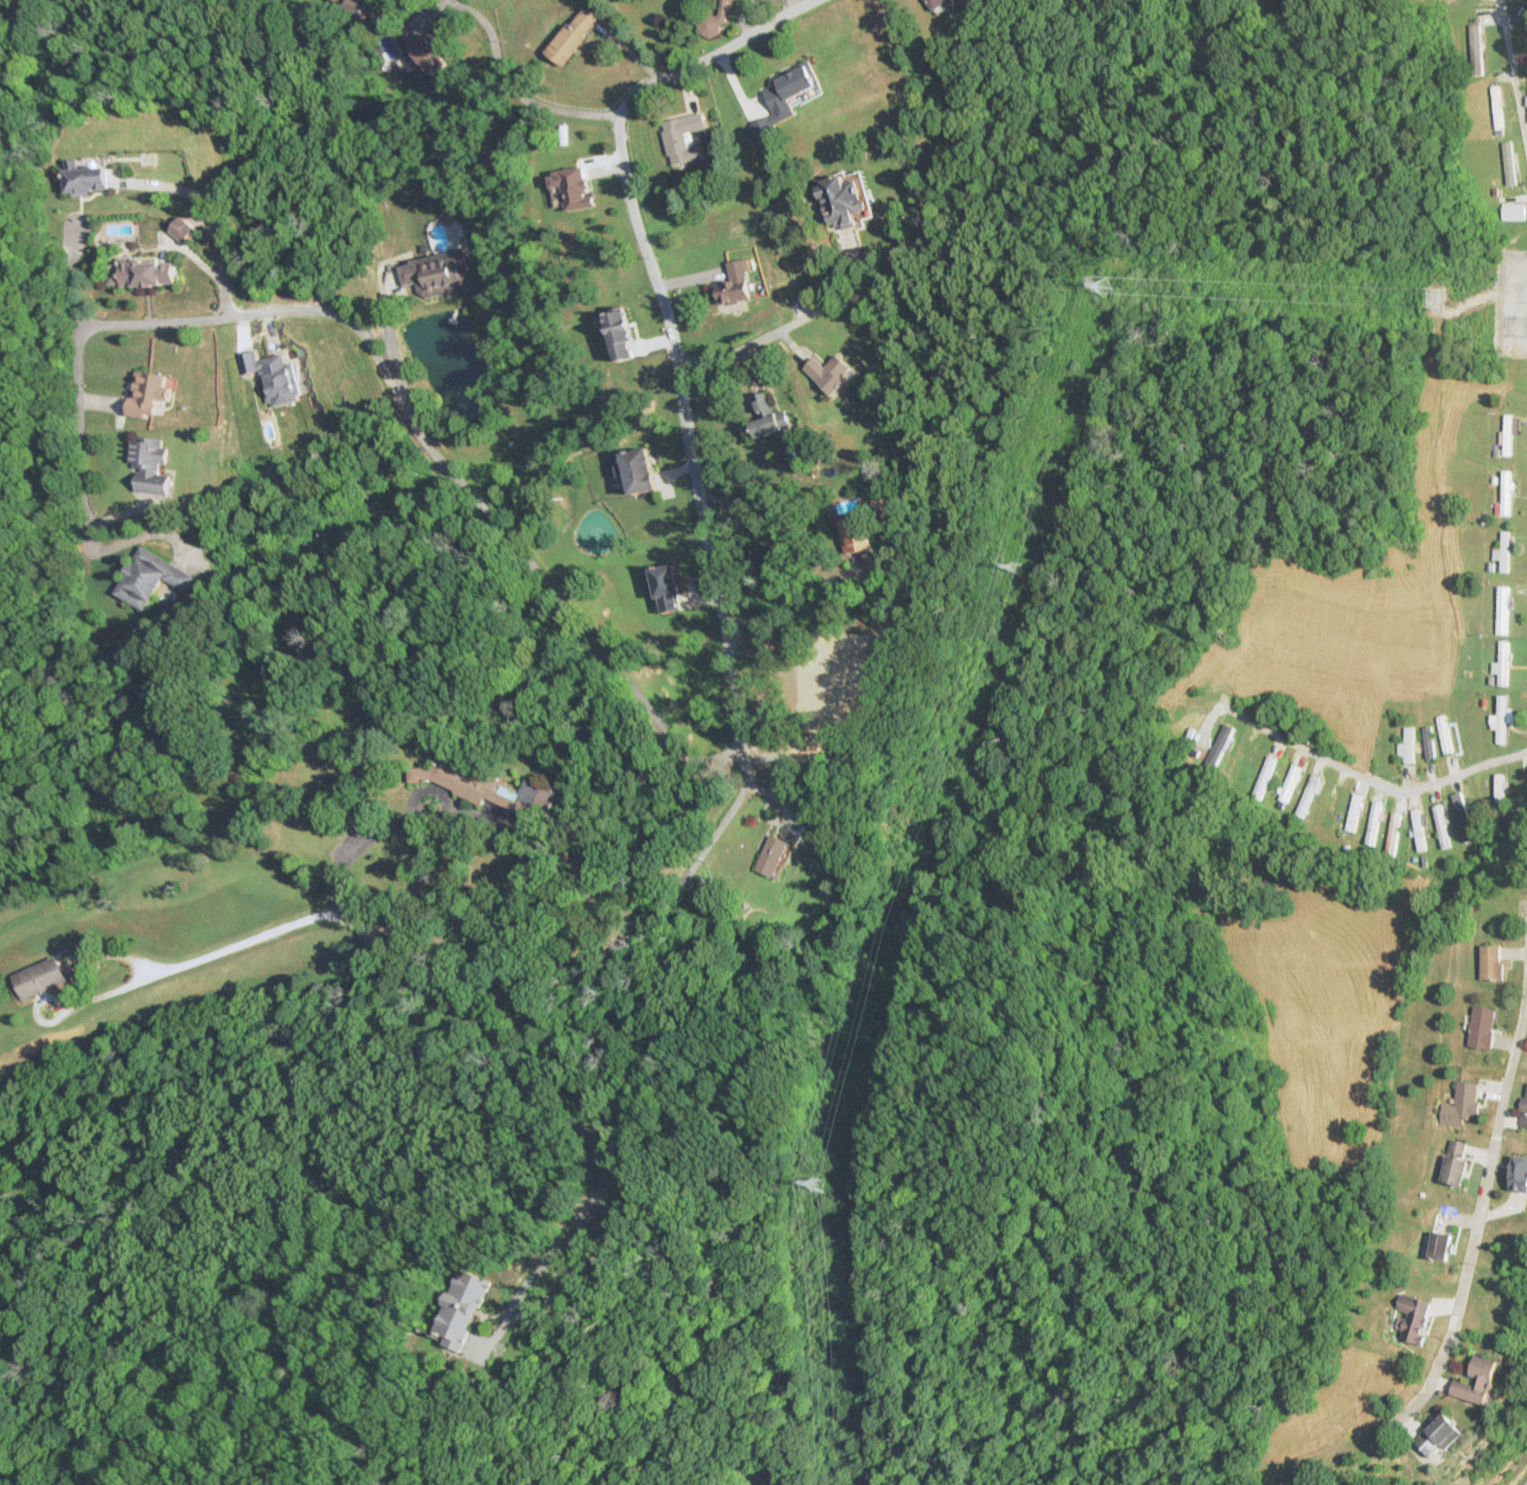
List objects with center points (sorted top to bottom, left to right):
building: (729, 0)
building: (935, 3)
building: (352, 7)
building: (711, 24)
building: (574, 36)
building: (1475, 47)
road: (1514, 74)
road: (513, 88)
building: (782, 100)
building: (1496, 107)
building: (683, 138)
building: (1511, 166)
building: (84, 179)
building: (572, 188)
building: (841, 202)
building: (1513, 211)
building: (145, 273)
building: (437, 274)
road: (76, 275)
building: (738, 282)
building: (619, 336)
road: (735, 349)
road: (384, 372)
building: (830, 374)
building: (274, 377)
building: (149, 394)
building: (767, 417)
building: (1508, 435)
building: (150, 465)
building: (639, 472)
building: (1505, 495)
building: (852, 535)
building: (1504, 551)
building: (150, 578)
building: (666, 589)
road: (716, 599)
building: (1503, 608)
building: (1503, 662)
building: (1500, 720)
building: (1445, 734)
building: (1428, 739)
building: (1409, 745)
building: (1220, 750)
building: (1240, 763)
building: (1290, 783)
road: (1369, 783)
building: (476, 786)
building: (1501, 788)
building: (1355, 812)
building: (1466, 821)
building: (1375, 823)
building: (1443, 825)
building: (1419, 829)
building: (1394, 833)
building: (774, 854)
building: (1491, 962)
building: (38, 979)
building: (1482, 1026)
building: (1462, 1104)
building: (1524, 1110)
building: (1455, 1162)
building: (1519, 1173)
road: (1481, 1197)
building: (1439, 1244)
building: (460, 1308)
building: (1413, 1316)
building: (1477, 1380)
building: (1438, 1435)

